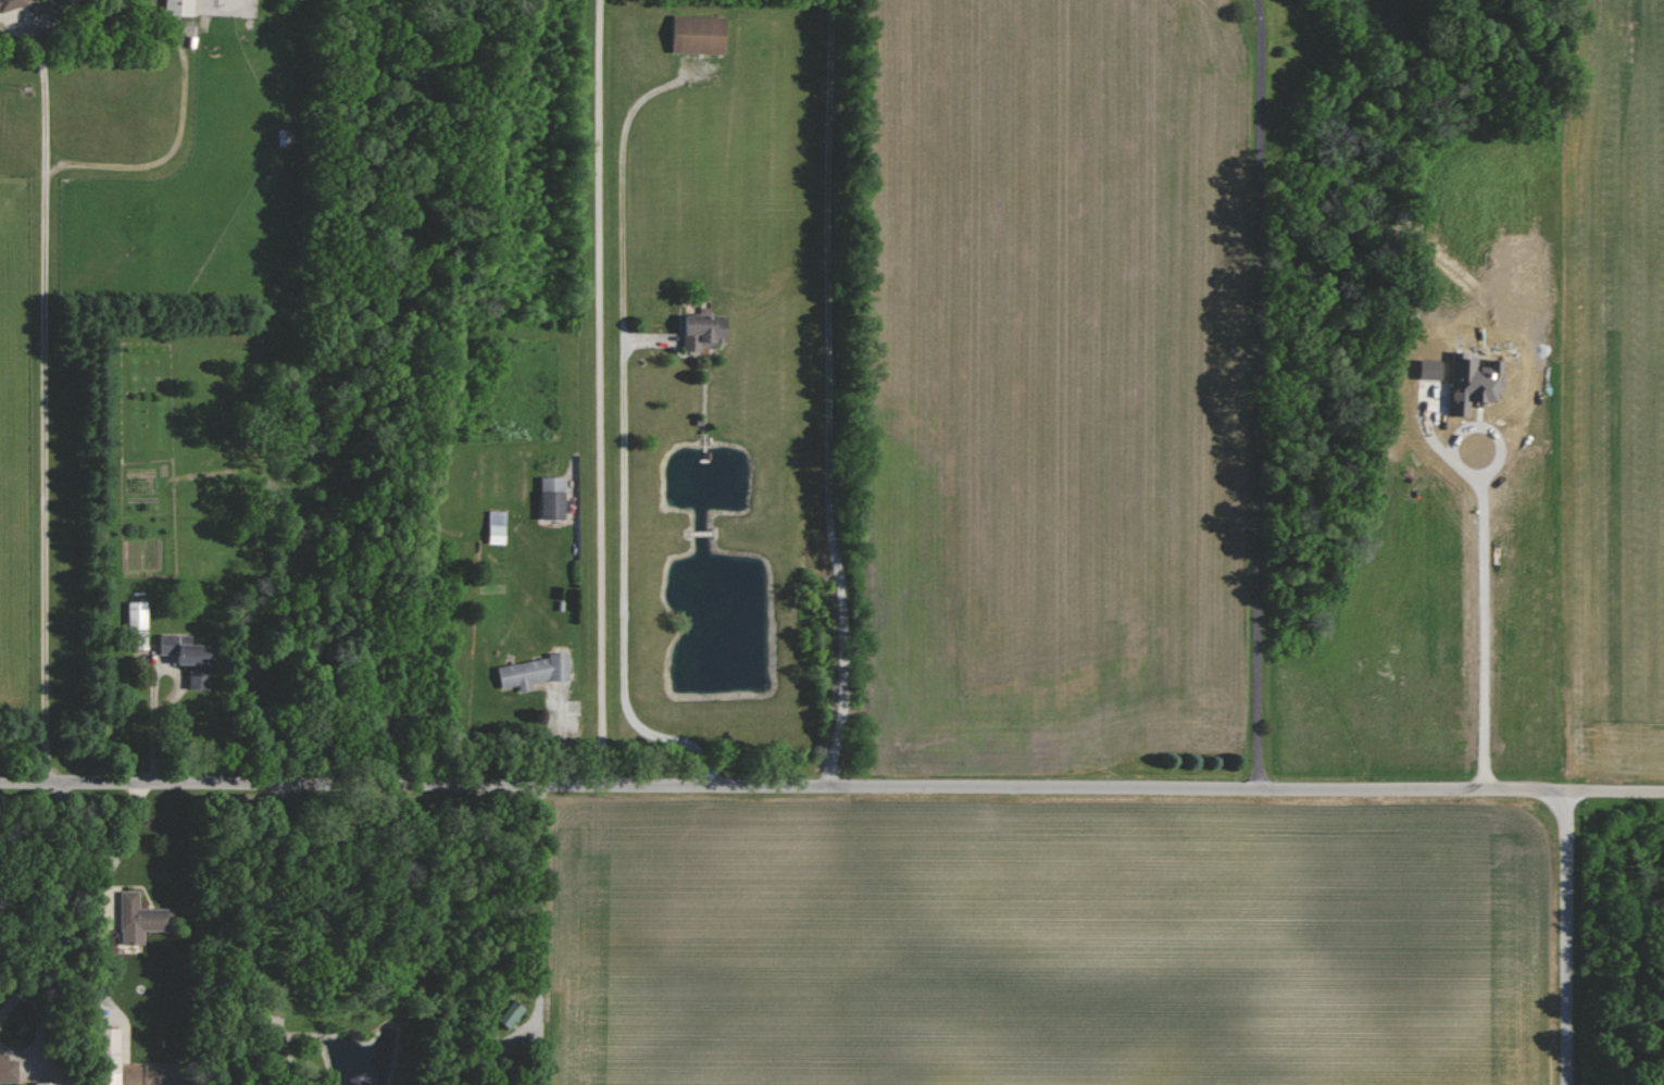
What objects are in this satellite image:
building: (12, 4)
building: (62, 5)
building: (692, 34)
road: (162, 160)
building: (699, 331)
road: (597, 391)
road: (837, 394)
road: (1260, 394)
road: (47, 415)
building: (548, 498)
building: (492, 527)
road: (624, 587)
building: (140, 615)
building: (191, 658)
road: (831, 786)
road: (529, 881)
road: (97, 890)
building: (143, 918)
road: (249, 935)
road: (1566, 936)
building: (502, 1017)
building: (117, 1038)
building: (10, 1069)
building: (50, 1083)

